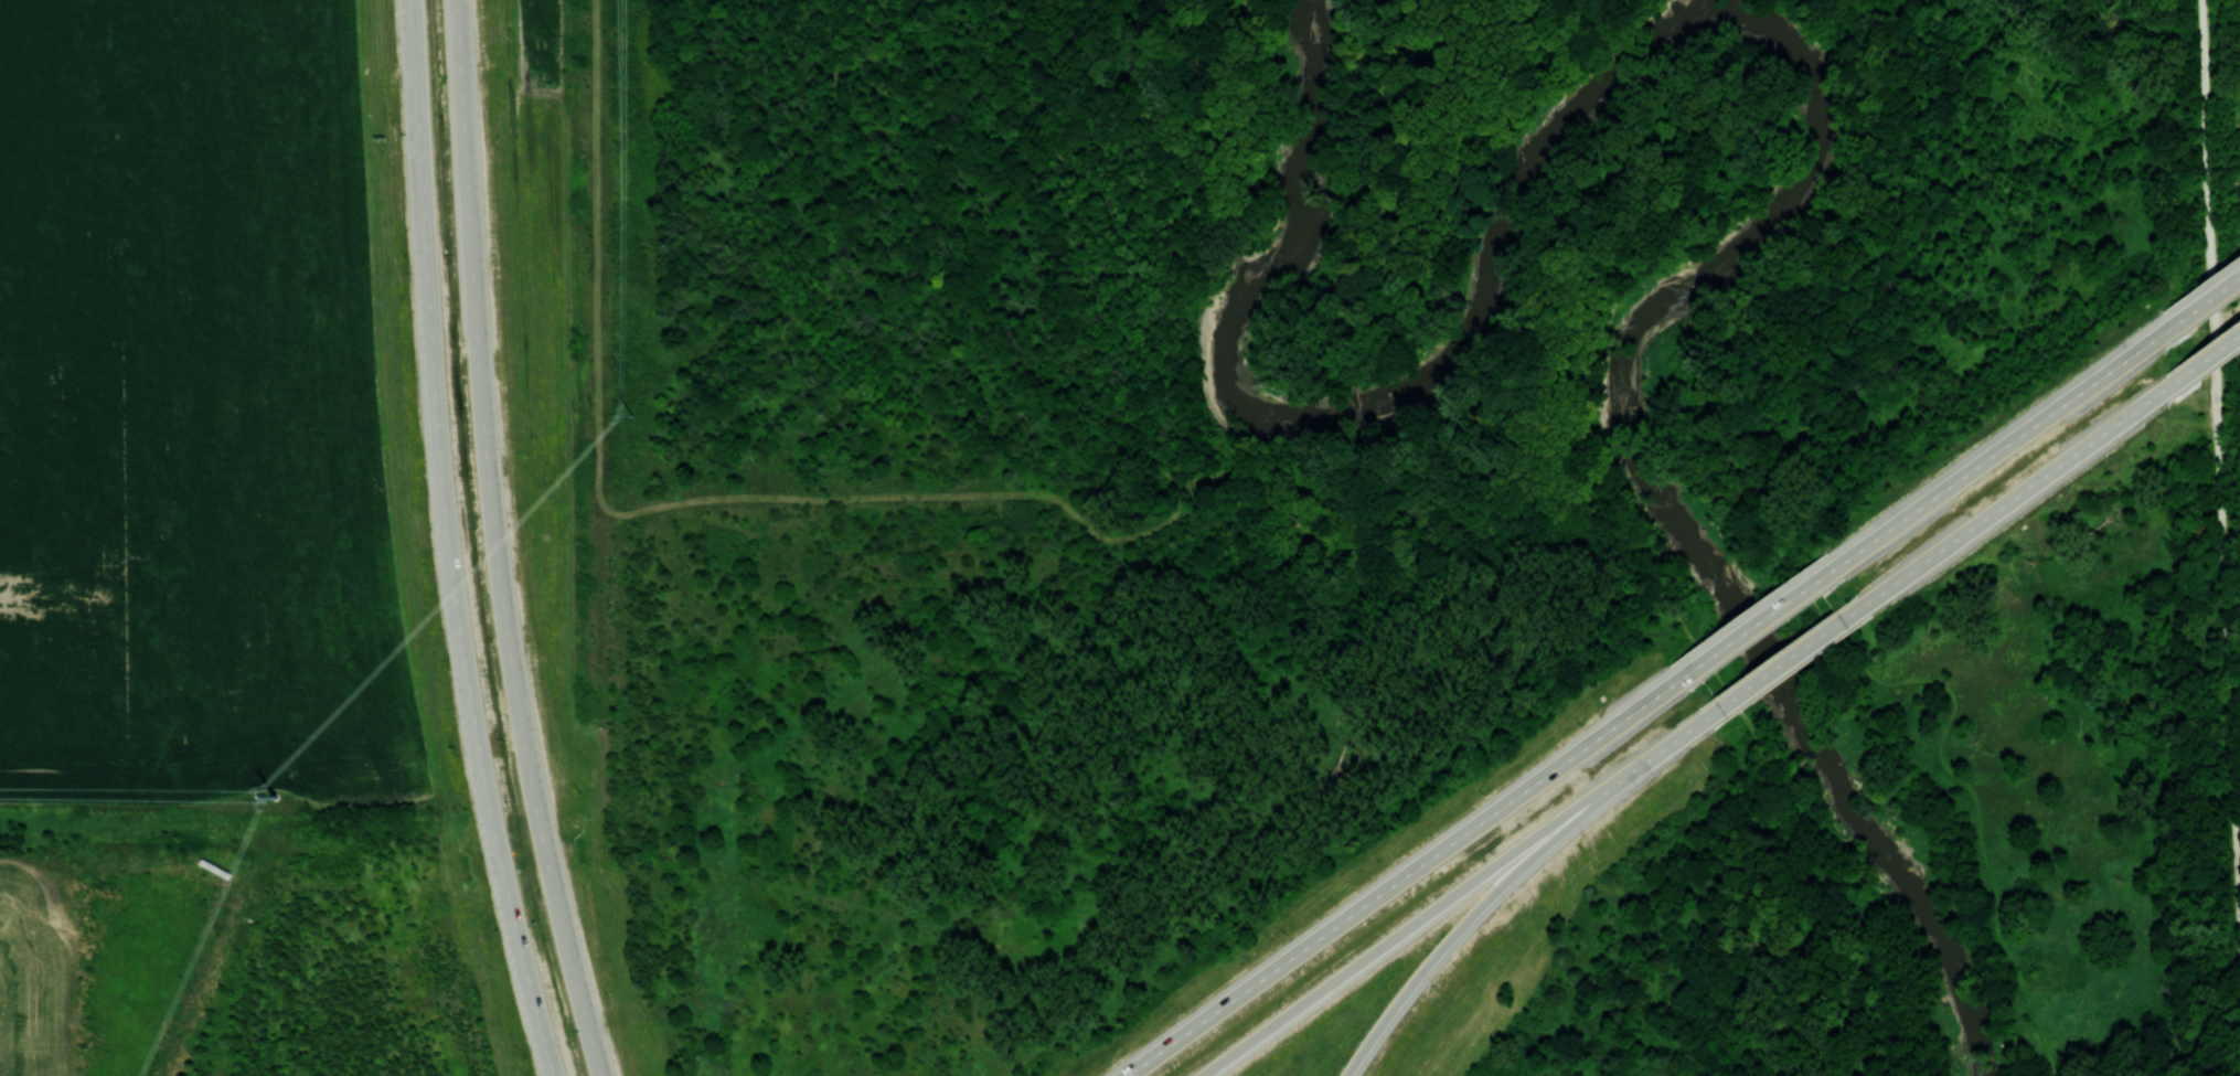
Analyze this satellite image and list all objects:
river: (1791, 47)
road: (1855, 64)
road: (1077, 182)
road: (2201, 303)
road: (2205, 361)
park: (1569, 413)
crop: (192, 414)
road: (436, 416)
power tower: (631, 416)
road: (1998, 449)
road: (2217, 457)
road: (1510, 466)
road: (2016, 497)
road: (498, 542)
road: (1799, 583)
road: (1756, 622)
road: (1783, 662)
road: (1715, 674)
road: (1761, 747)
power tower: (273, 796)
road: (1399, 877)
road: (1508, 880)
road: (1453, 897)
road: (1809, 903)
road: (521, 952)
road: (1842, 1053)

